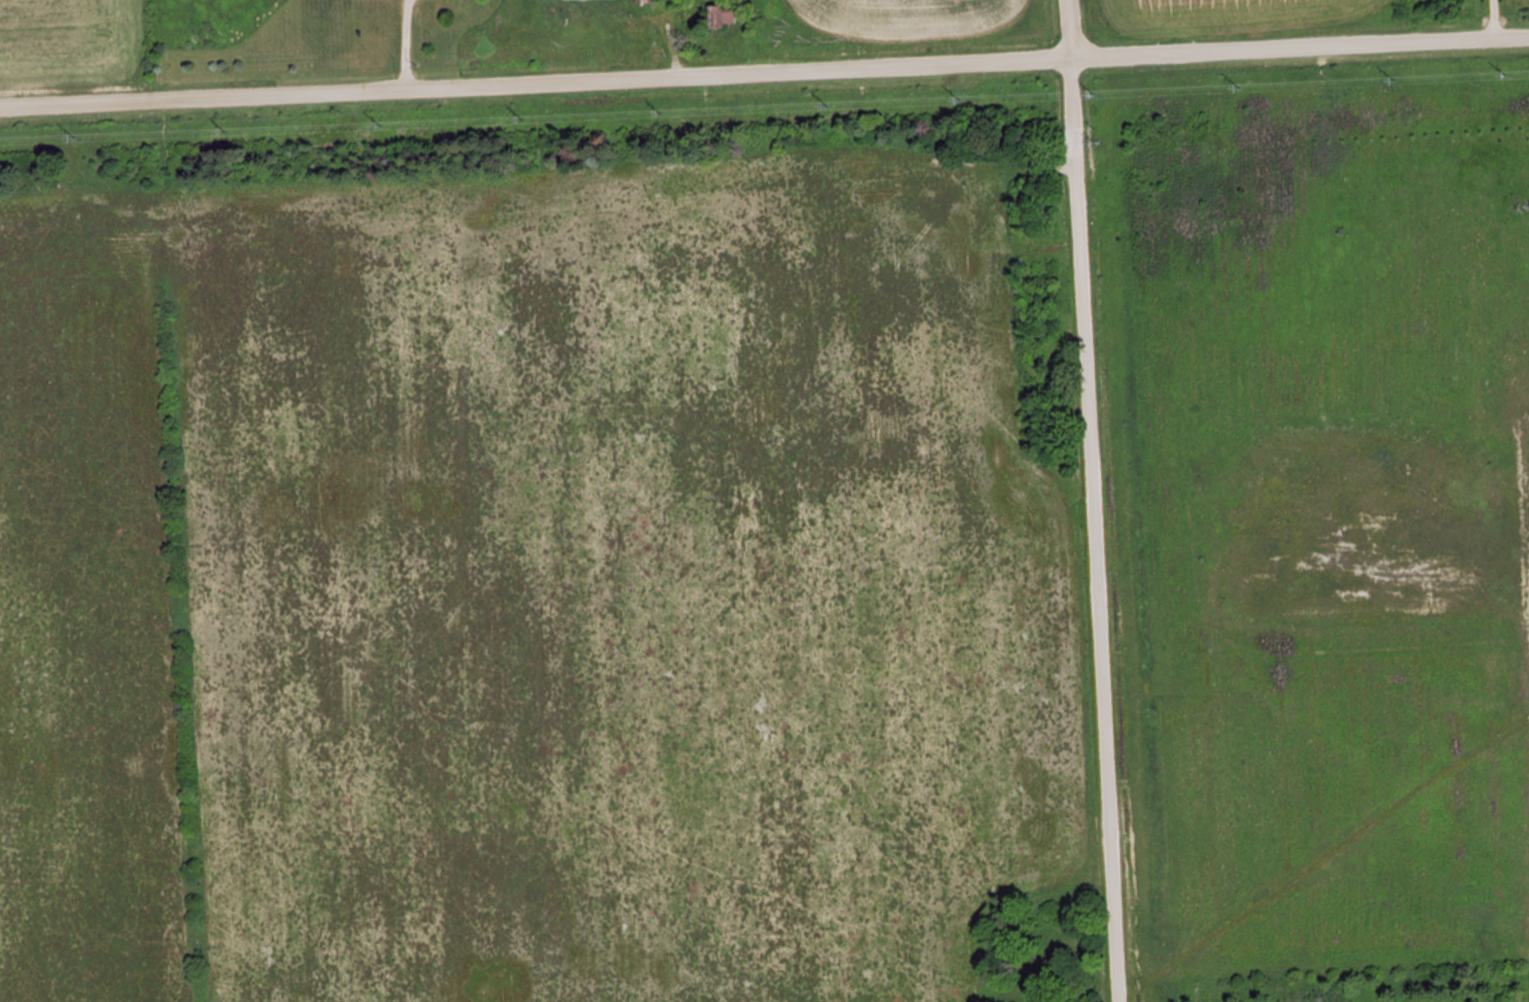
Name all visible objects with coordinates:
building: (567, 0)
building: (718, 17)
road: (764, 72)
road: (1091, 501)

